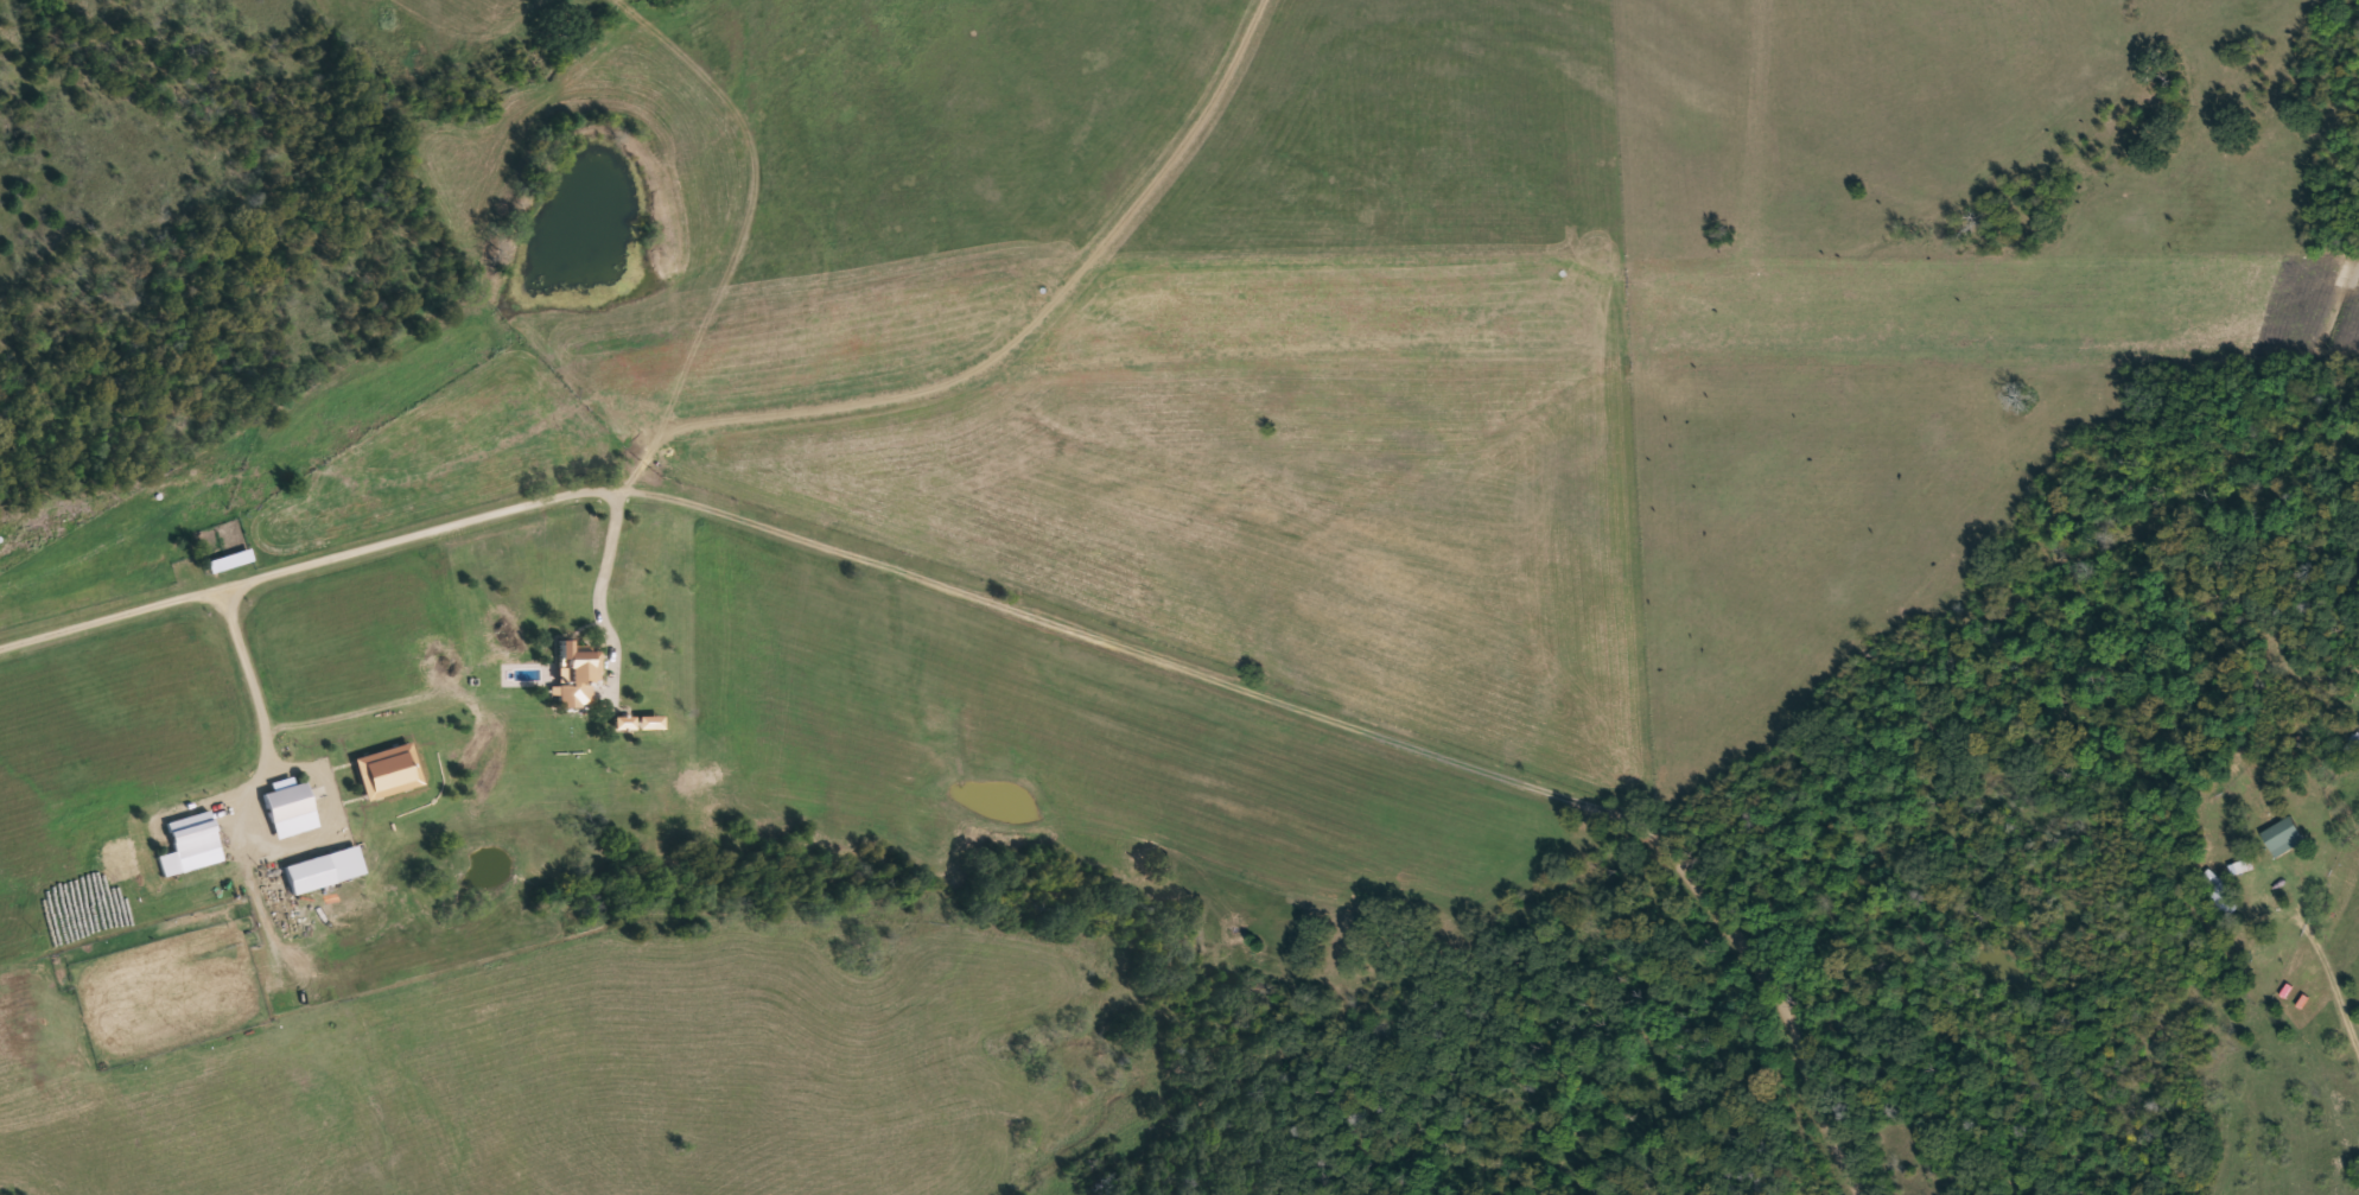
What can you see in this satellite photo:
road: (599, 581)
road: (1039, 611)
building: (577, 673)
building: (2352, 742)
building: (288, 808)
road: (247, 811)
building: (191, 833)
building: (2218, 891)
road: (2327, 985)

